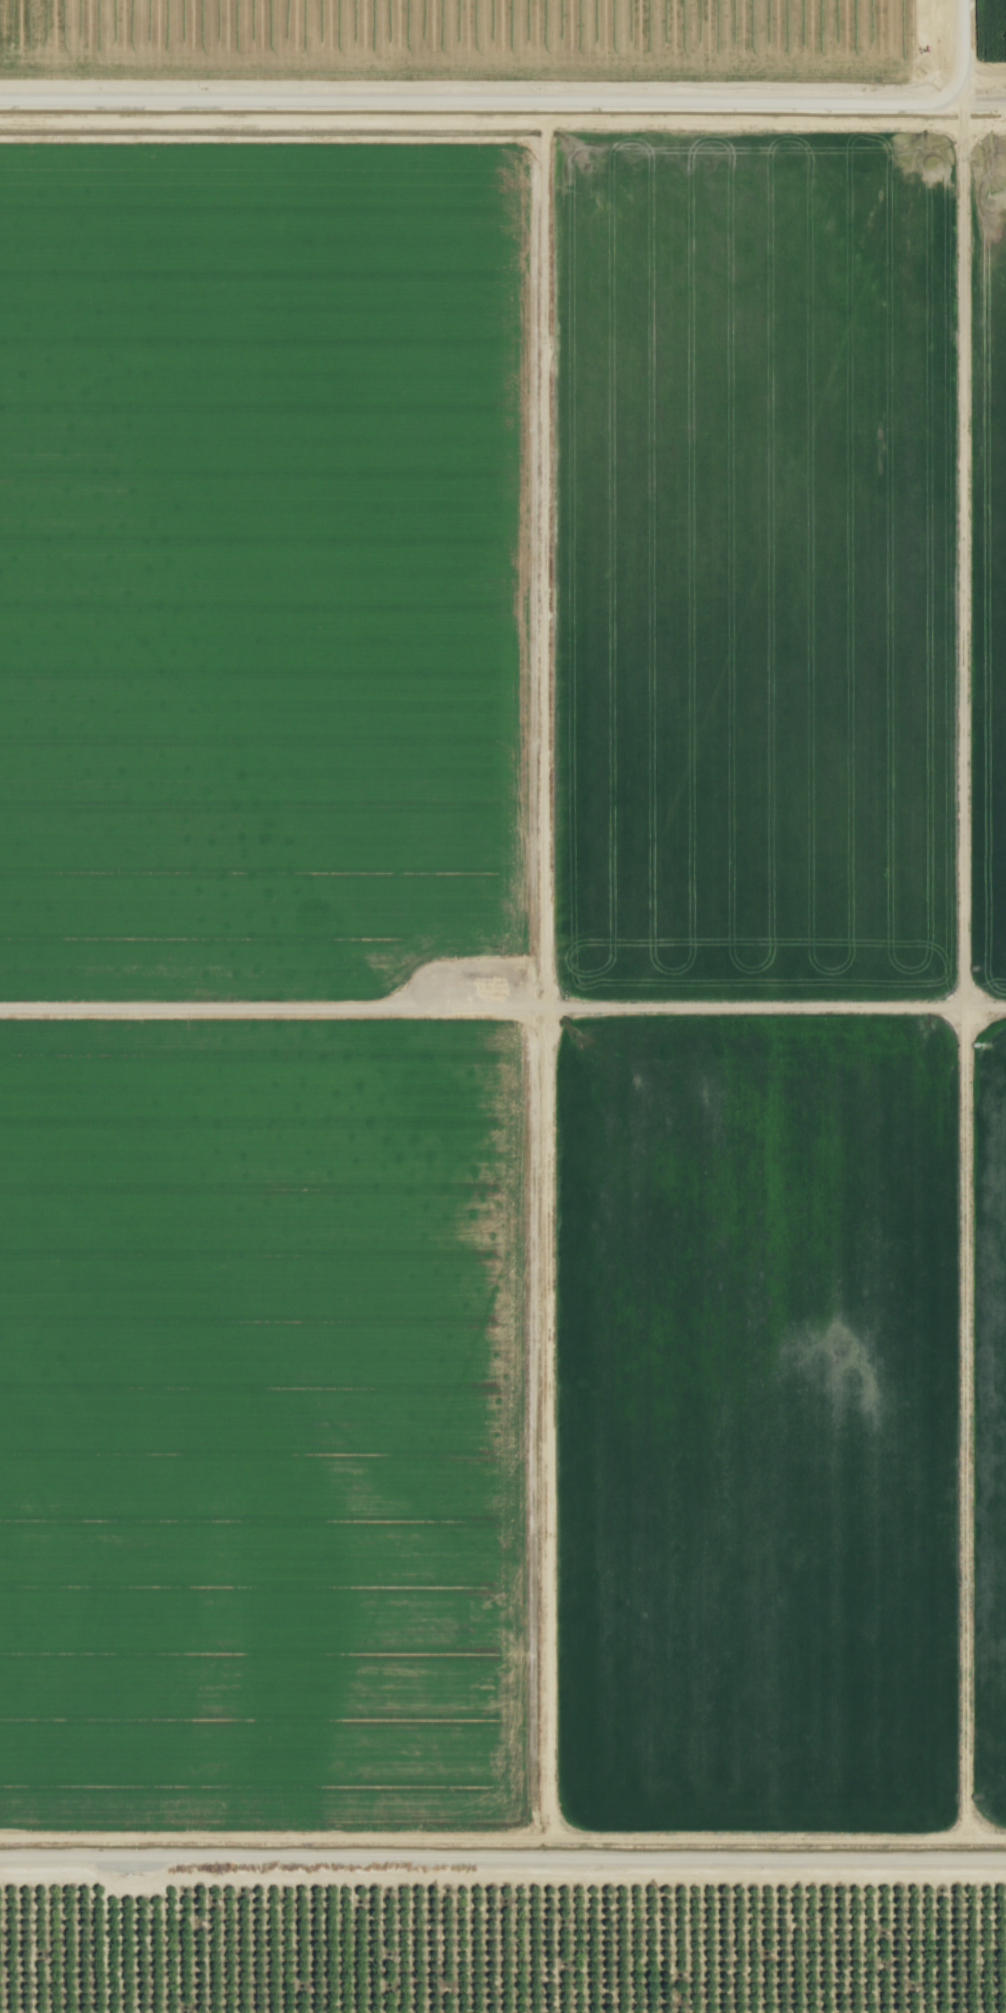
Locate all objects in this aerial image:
road: (524, 98)

